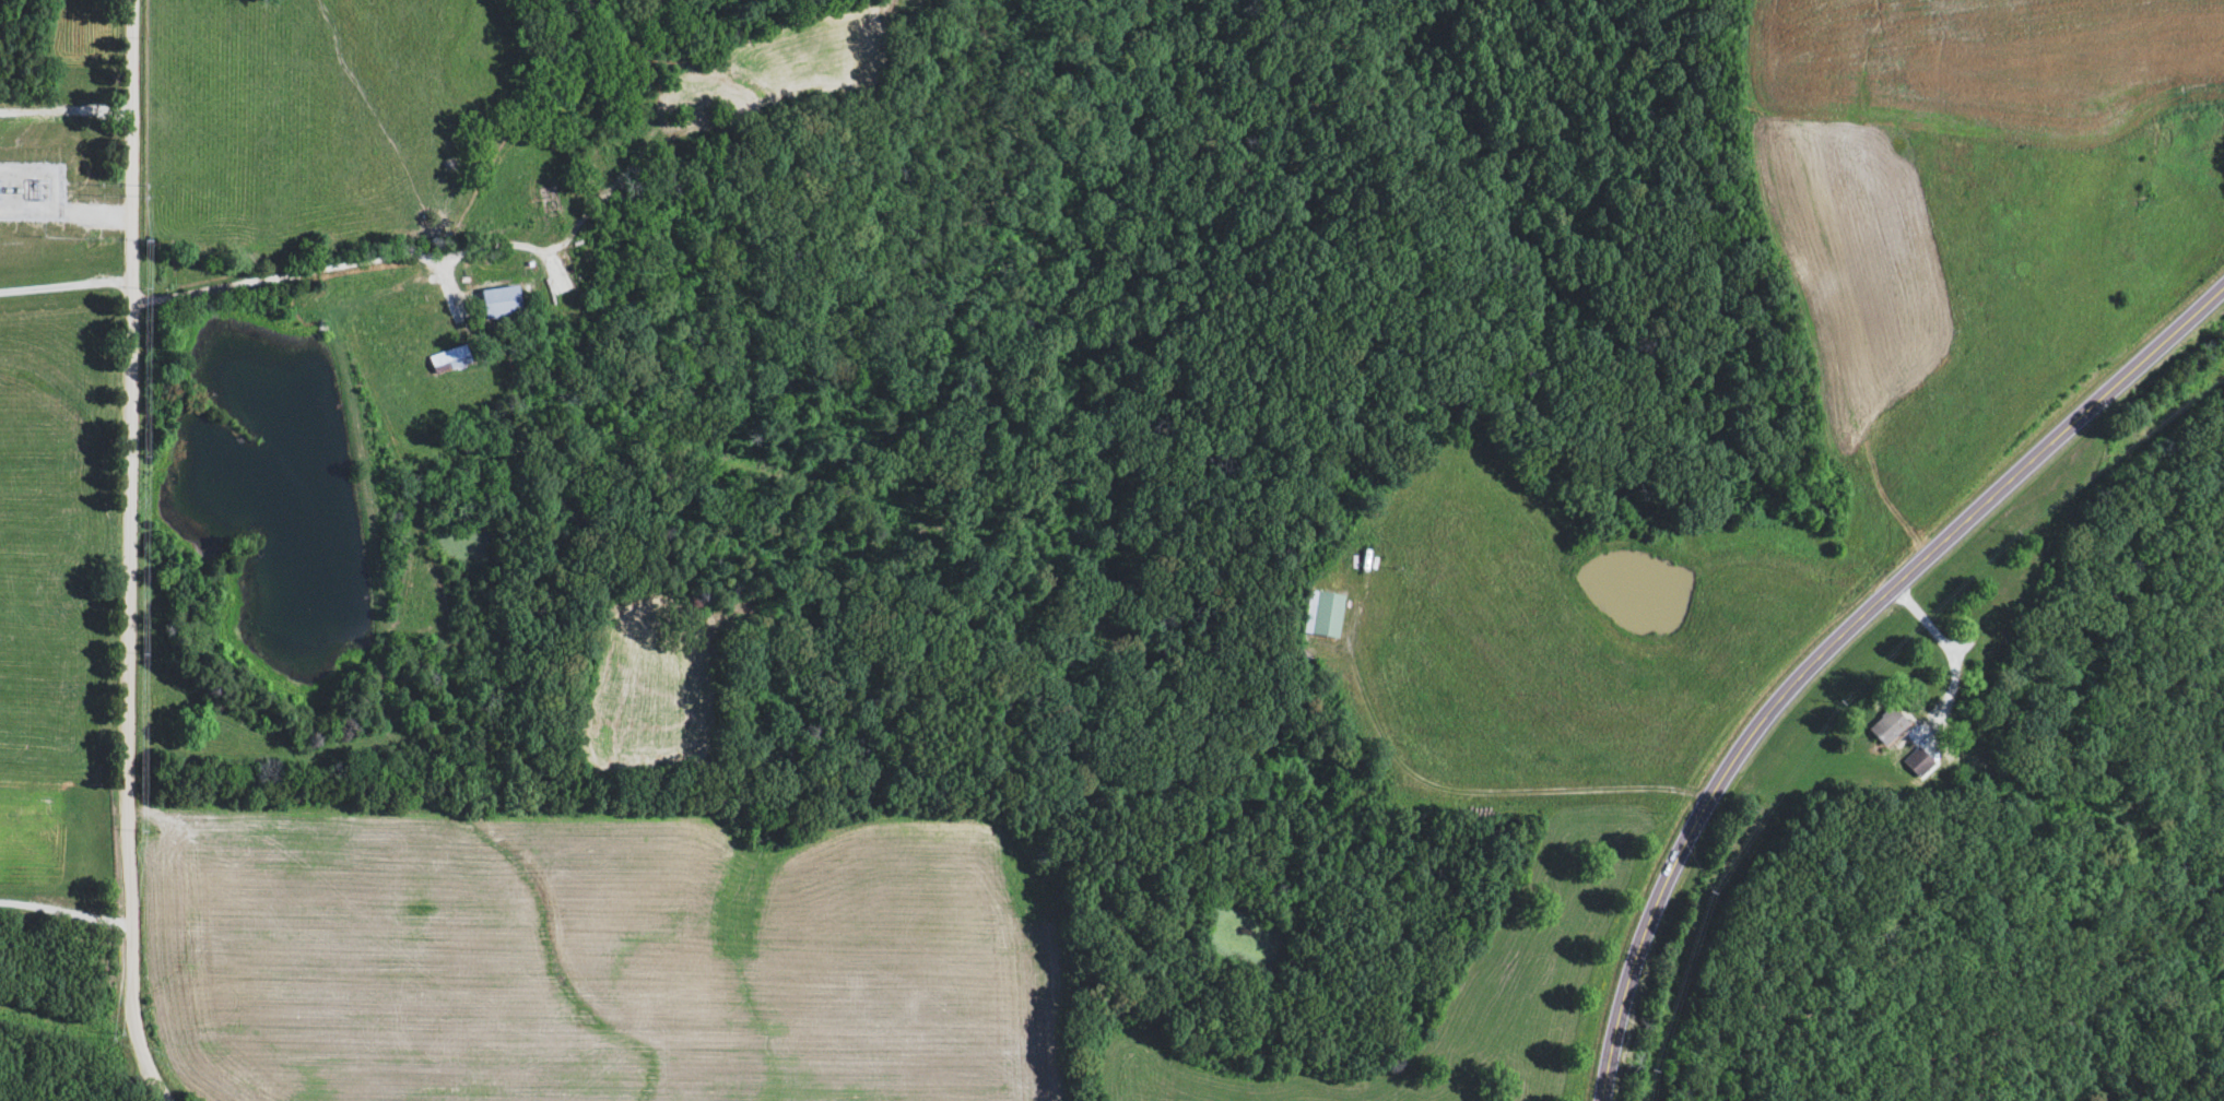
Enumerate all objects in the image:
power substation: (30, 190)
road: (287, 276)
road: (67, 288)
building: (502, 304)
building: (450, 362)
road: (133, 554)
building: (1322, 616)
road: (1836, 649)
building: (1888, 727)
building: (1918, 763)
road: (68, 914)

